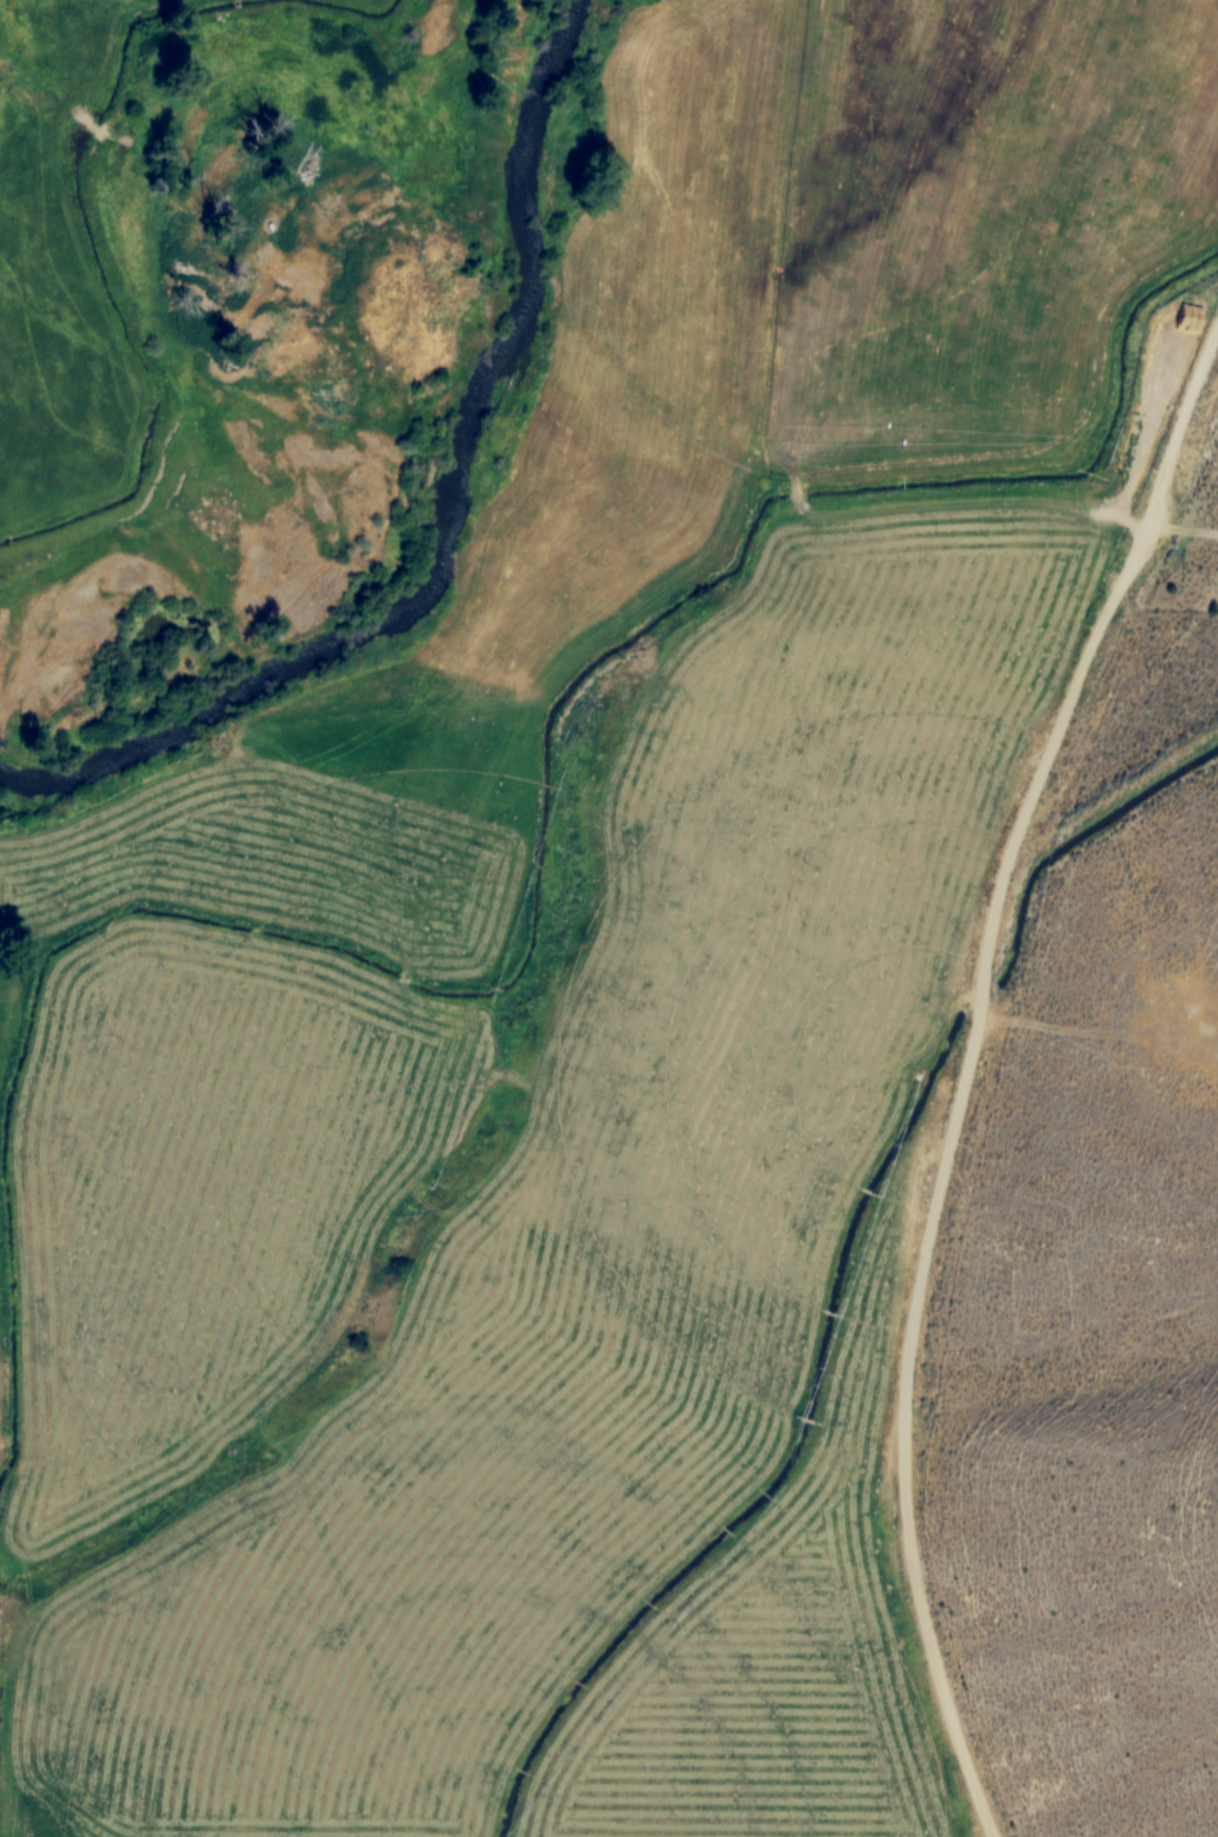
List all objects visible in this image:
river: (439, 520)
road: (964, 1080)

